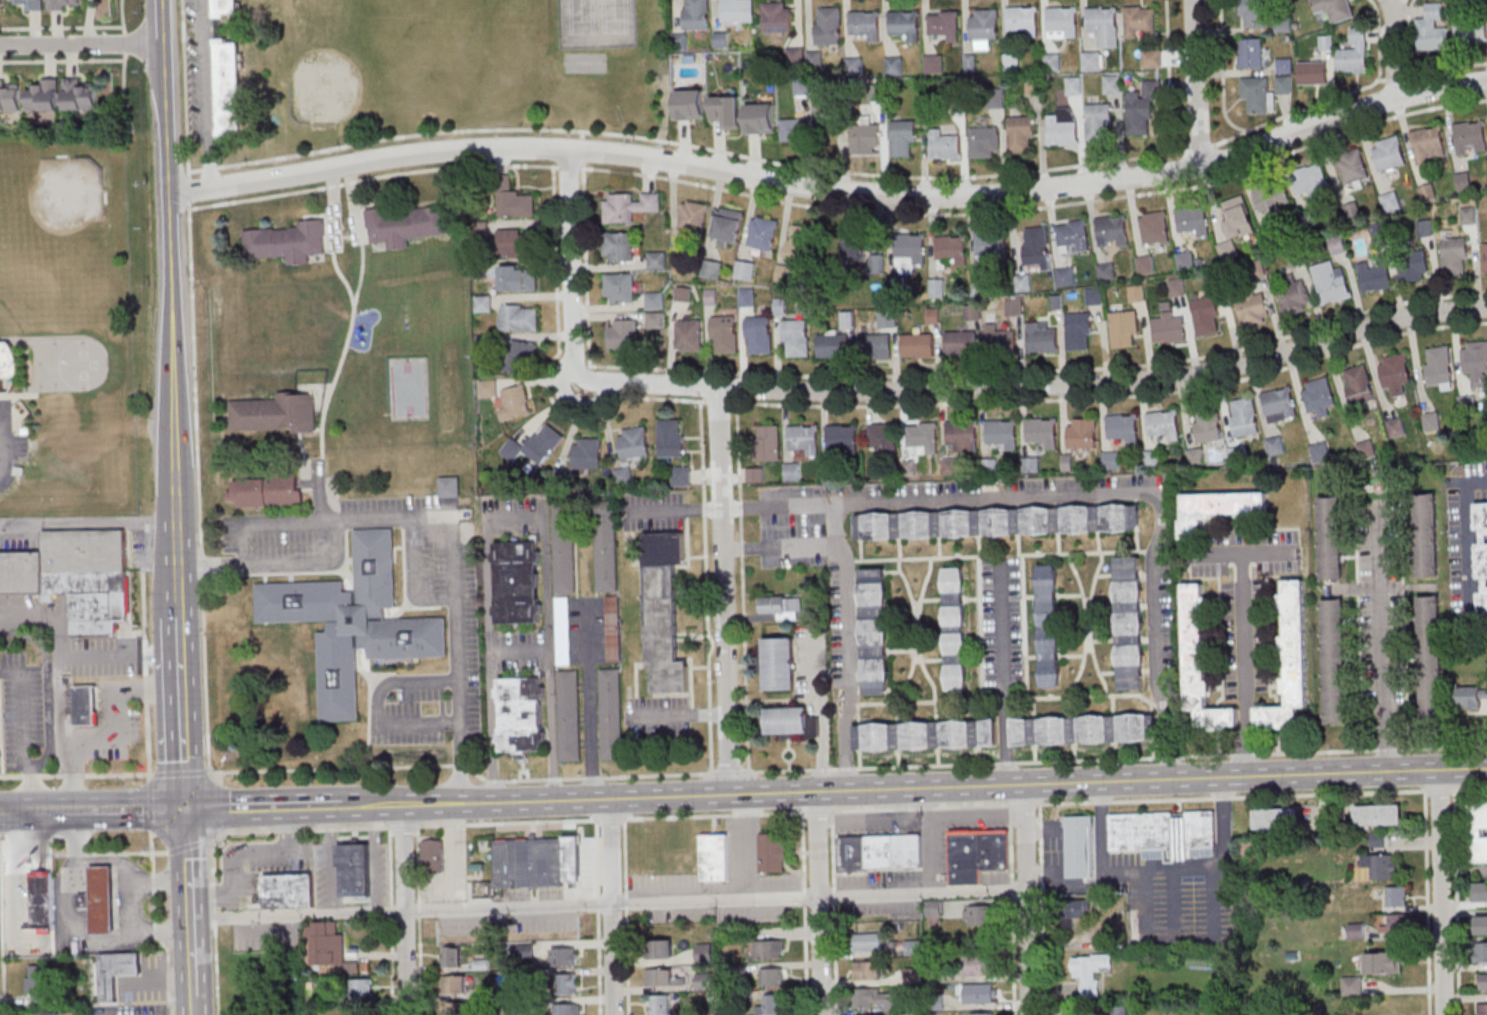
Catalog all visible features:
building: (30, 4)
building: (63, 4)
building: (2, 5)
building: (225, 8)
building: (1334, 9)
building: (738, 10)
building: (697, 14)
building: (1253, 14)
road: (124, 16)
building: (779, 18)
building: (1023, 20)
building: (1062, 22)
building: (1140, 22)
road: (166, 23)
park: (601, 23)
building: (865, 24)
building: (905, 24)
building: (945, 25)
building: (984, 25)
building: (829, 26)
building: (1104, 26)
road: (62, 27)
building: (1432, 29)
building: (1471, 32)
road: (126, 43)
building: (1326, 43)
road: (83, 46)
road: (1394, 48)
building: (1251, 54)
building: (1355, 54)
building: (795, 59)
road: (62, 60)
building: (815, 60)
building: (585, 62)
building: (1052, 62)
park: (365, 63)
park: (588, 63)
building: (894, 65)
building: (1284, 66)
park: (457, 68)
road: (1221, 70)
building: (1313, 73)
road: (1168, 76)
road: (1194, 83)
building: (1284, 85)
building: (801, 86)
building: (1034, 87)
building: (229, 88)
road: (123, 92)
building: (875, 92)
road: (1347, 93)
road: (205, 94)
building: (954, 94)
building: (1257, 95)
building: (44, 97)
building: (80, 97)
building: (10, 98)
building: (829, 107)
building: (718, 108)
building: (1142, 108)
building: (761, 119)
building: (1098, 123)
building: (1063, 128)
building: (793, 132)
building: (1020, 136)
building: (865, 139)
building: (902, 139)
building: (1471, 139)
building: (984, 142)
road: (686, 144)
building: (1429, 146)
building: (944, 147)
road: (1198, 147)
building: (1390, 154)
building: (1353, 167)
building: (1313, 182)
road: (833, 189)
building: (1272, 196)
building: (512, 201)
building: (1391, 203)
road: (356, 204)
building: (630, 207)
road: (335, 209)
road: (842, 210)
building: (693, 218)
building: (1239, 219)
building: (1194, 222)
building: (408, 226)
building: (728, 226)
building: (1155, 228)
building: (1425, 229)
building: (1113, 232)
building: (762, 234)
building: (1073, 235)
building: (288, 243)
building: (515, 244)
building: (800, 244)
building: (852, 246)
building: (1036, 246)
building: (618, 247)
building: (991, 248)
building: (951, 251)
building: (909, 253)
building: (1455, 257)
building: (1485, 258)
road: (172, 261)
building: (657, 261)
building: (877, 264)
building: (1145, 265)
building: (1415, 265)
building: (682, 266)
building: (712, 270)
building: (1255, 270)
building: (745, 271)
building: (1376, 276)
road: (343, 277)
building: (519, 280)
building: (1216, 280)
building: (1022, 283)
building: (1331, 283)
building: (936, 288)
building: (1176, 288)
road: (588, 289)
building: (620, 289)
building: (1136, 294)
building: (682, 295)
building: (1094, 296)
building: (1293, 296)
building: (655, 302)
building: (1253, 308)
building: (1206, 317)
building: (519, 318)
building: (656, 321)
building: (1123, 330)
building: (1079, 332)
road: (570, 333)
building: (623, 334)
building: (723, 335)
building: (758, 335)
building: (688, 337)
building: (796, 338)
building: (1043, 338)
building: (1002, 341)
building: (961, 343)
building: (833, 346)
building: (875, 346)
building: (918, 346)
building: (521, 357)
building: (1476, 363)
building: (1440, 365)
building: (9, 367)
building: (1396, 374)
road: (1107, 383)
road: (335, 384)
building: (1359, 385)
road: (195, 394)
building: (1320, 397)
building: (515, 402)
building: (1280, 404)
road: (573, 406)
building: (278, 413)
building: (1244, 416)
building: (1432, 421)
building: (1208, 422)
building: (1164, 424)
building: (1122, 426)
building: (1042, 432)
building: (1003, 433)
building: (1082, 433)
building: (962, 436)
building: (923, 437)
building: (670, 438)
building: (842, 439)
building: (883, 440)
building: (804, 441)
building: (543, 443)
building: (633, 443)
building: (767, 443)
road: (304, 447)
building: (587, 453)
road: (4, 461)
building: (992, 466)
building: (793, 473)
building: (755, 475)
building: (680, 476)
building: (624, 477)
building: (449, 487)
road: (322, 489)
building: (270, 490)
road: (997, 497)
road: (779, 505)
building: (1219, 507)
road: (677, 509)
road: (435, 515)
road: (514, 518)
building: (998, 522)
road: (90, 527)
road: (180, 531)
building: (1427, 536)
building: (1332, 538)
road: (144, 544)
building: (605, 544)
building: (563, 548)
road: (779, 548)
road: (1467, 551)
building: (1482, 555)
road: (311, 562)
building: (516, 582)
road: (725, 589)
road: (182, 603)
building: (782, 606)
road: (146, 607)
building: (663, 609)
building: (612, 627)
building: (560, 629)
road: (520, 654)
road: (122, 655)
road: (147, 655)
building: (780, 662)
road: (1248, 665)
road: (1387, 670)
road: (1004, 673)
road: (589, 702)
road: (119, 705)
road: (824, 710)
road: (376, 711)
building: (611, 713)
road: (185, 714)
building: (568, 715)
road: (682, 717)
building: (788, 719)
road: (69, 733)
road: (28, 740)
road: (742, 773)
road: (1048, 783)
road: (1470, 787)
road: (1438, 789)
road: (1343, 792)
road: (507, 799)
road: (1023, 803)
road: (368, 804)
road: (260, 806)
road: (922, 806)
road: (218, 808)
traffic signals: (188, 809)
road: (16, 810)
road: (110, 810)
road: (978, 811)
road: (880, 815)
road: (611, 818)
road: (403, 825)
building: (1478, 831)
road: (931, 839)
road: (151, 842)
road: (189, 844)
road: (751, 844)
road: (455, 846)
road: (26, 847)
road: (109, 852)
road: (240, 852)
building: (976, 853)
building: (714, 856)
road: (333, 858)
road: (1183, 868)
road: (129, 875)
building: (290, 891)
road: (1440, 893)
building: (1396, 895)
building: (104, 899)
road: (1026, 899)
road: (192, 901)
road: (1456, 901)
road: (608, 902)
road: (821, 902)
road: (1176, 903)
road: (612, 905)
road: (133, 907)
road: (405, 908)
road: (1041, 909)
building: (1073, 913)
building: (978, 915)
road: (626, 916)
road: (598, 917)
road: (418, 919)
road: (391, 920)
road: (214, 922)
building: (1395, 923)
building: (1482, 924)
road: (79, 927)
road: (1163, 938)
building: (866, 941)
building: (912, 946)
building: (660, 948)
building: (768, 948)
building: (1482, 951)
building: (704, 952)
building: (452, 956)
building: (564, 956)
road: (835, 958)
road: (805, 959)
building: (1383, 962)
building: (975, 965)
building: (868, 970)
building: (1090, 970)
building: (116, 971)
building: (912, 974)
building: (771, 976)
building: (658, 977)
building: (1483, 980)
building: (705, 981)
building: (37, 982)
building: (567, 983)
building: (453, 985)
building: (1351, 985)
building: (361, 987)
building: (977, 993)
building: (878, 998)
road: (195, 1004)
building: (661, 1004)
building: (772, 1005)
building: (454, 1008)
building: (566, 1008)
building: (1482, 1009)
building: (50, 1013)
building: (981, 1013)
building: (1081, 1014)

